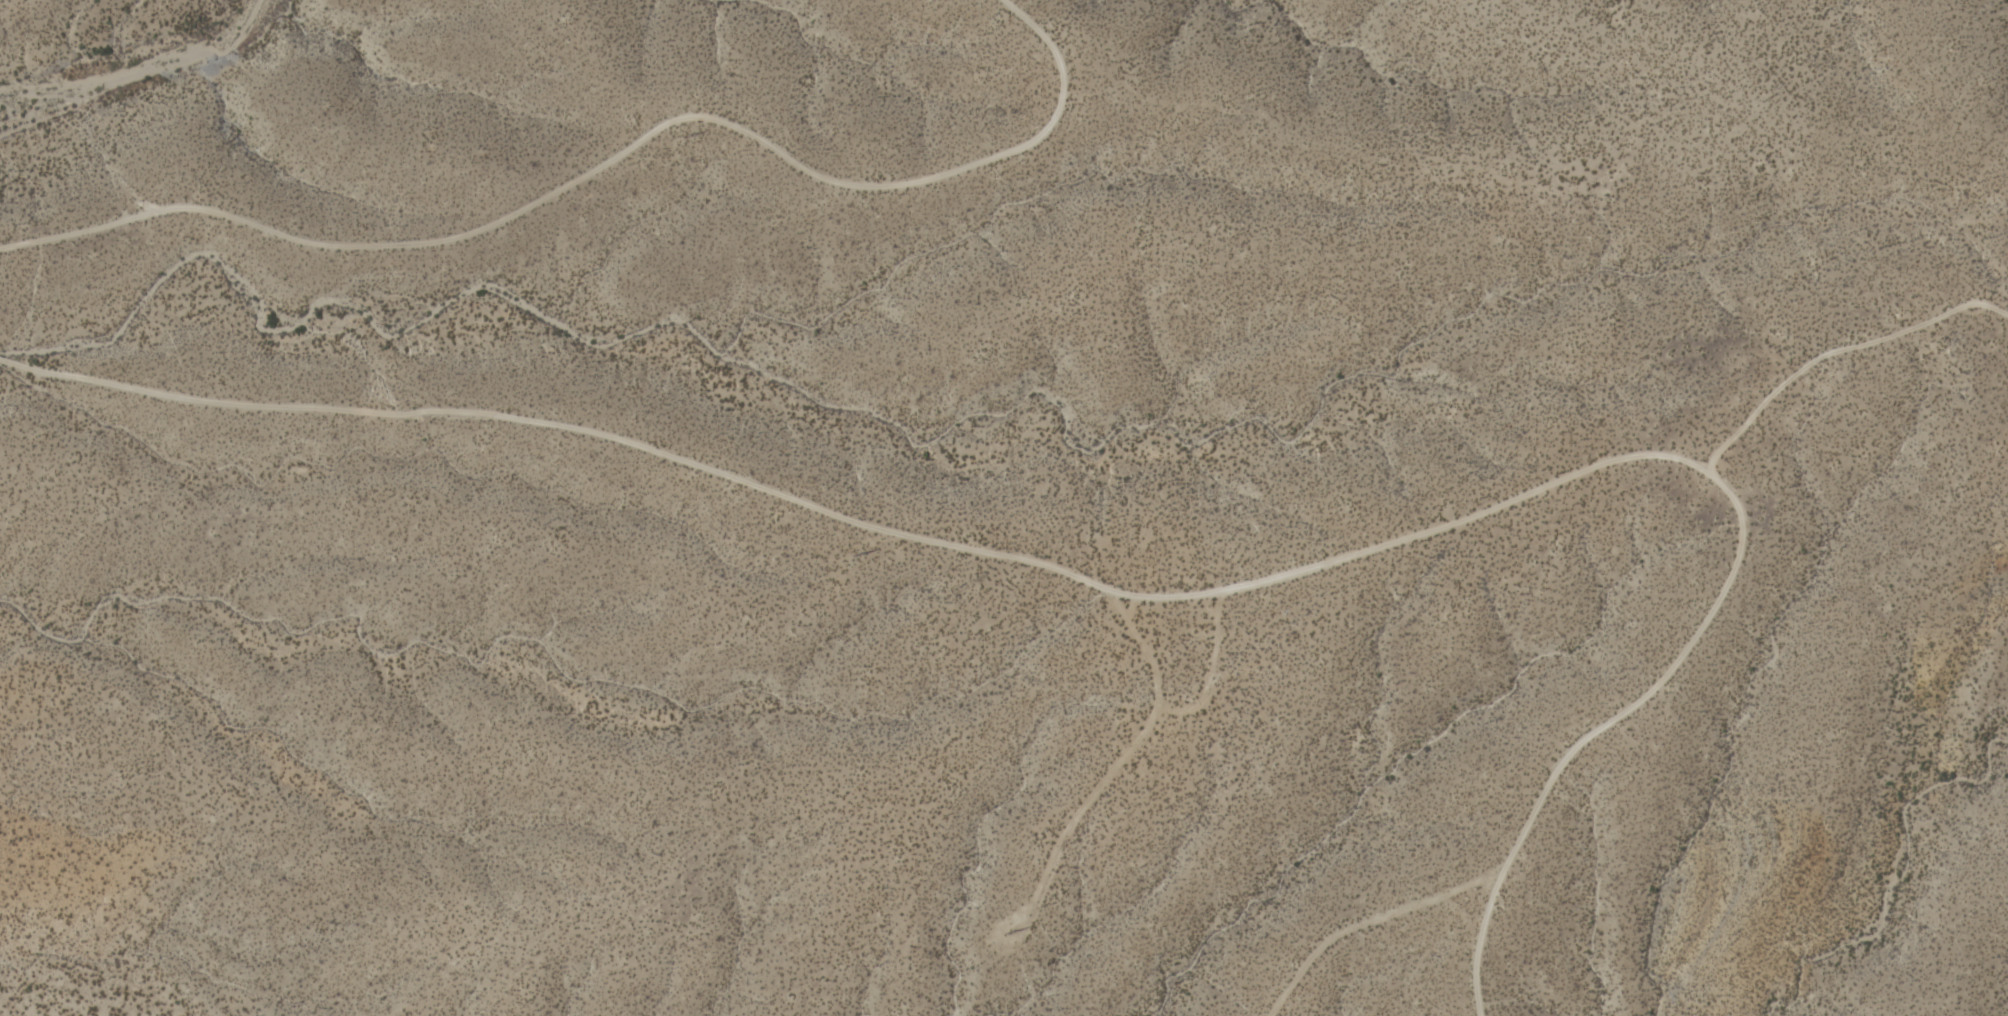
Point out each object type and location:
road: (606, 160)
road: (1175, 591)
power tower: (1007, 935)

